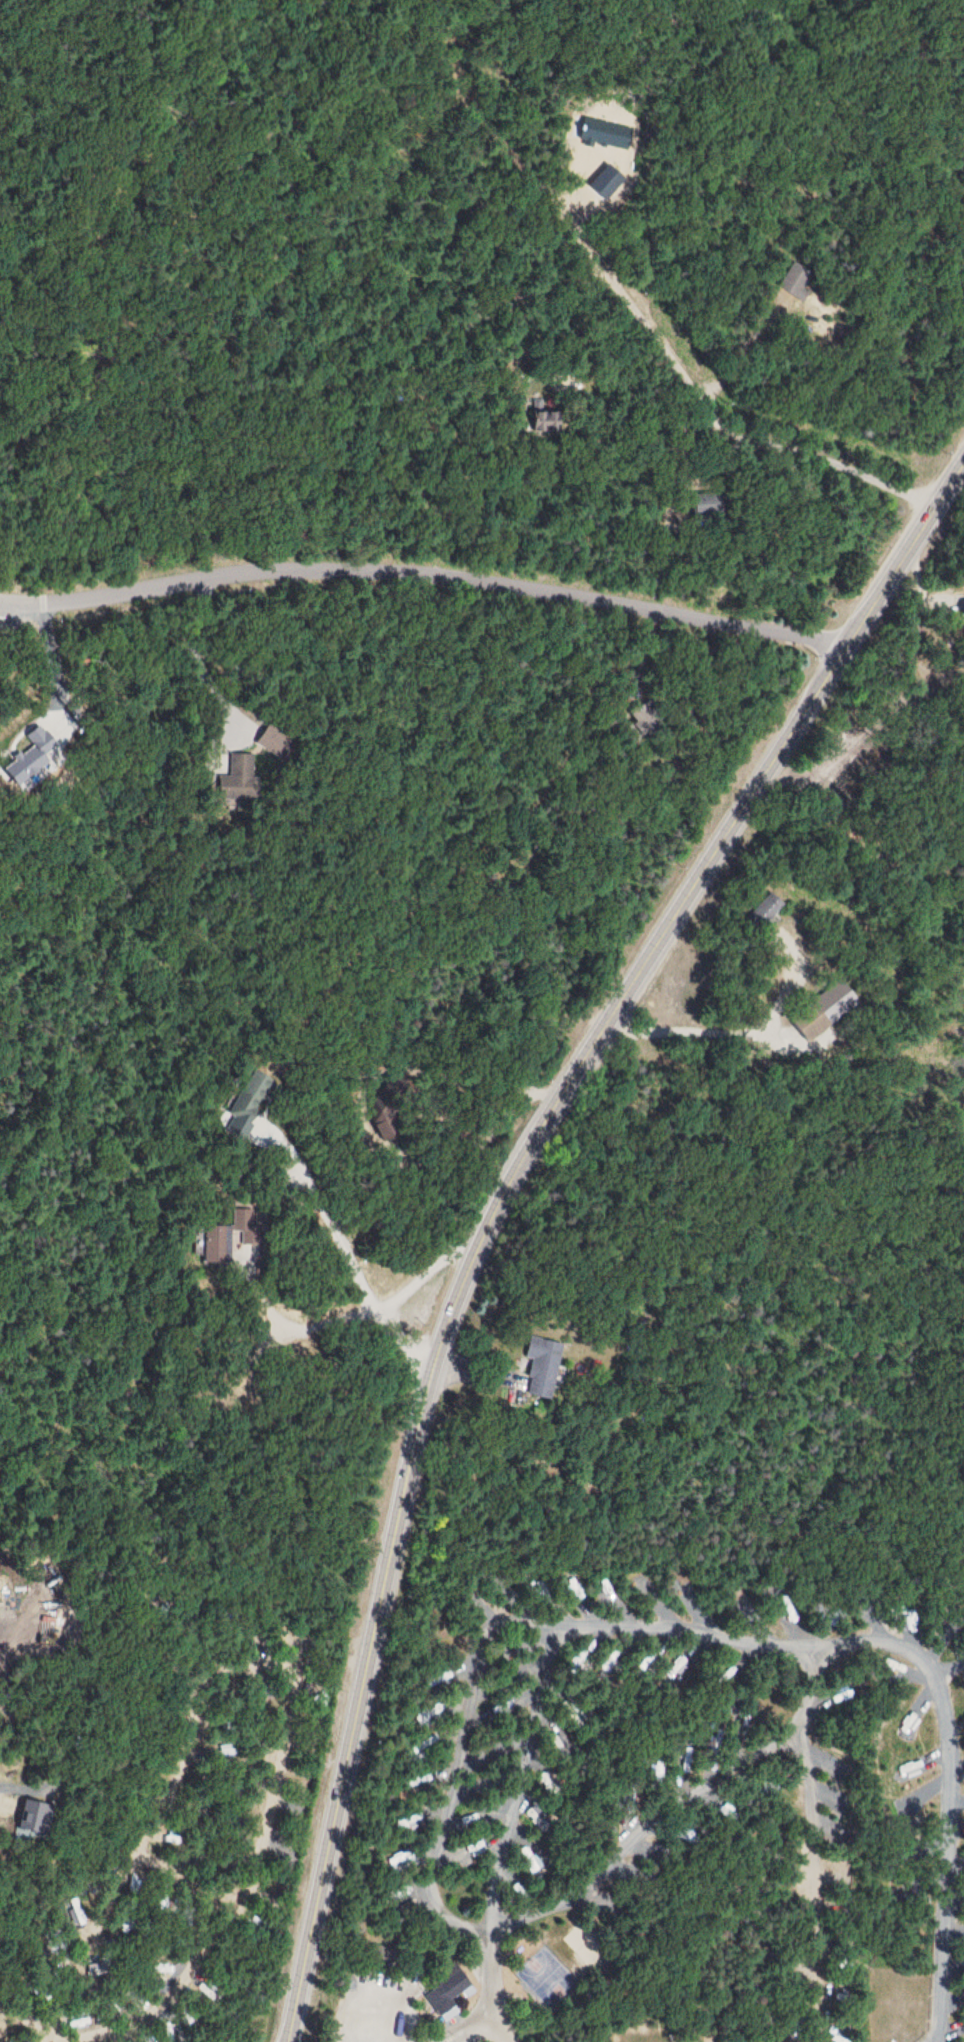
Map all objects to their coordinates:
road: (205, 37)
road: (913, 169)
road: (626, 329)
road: (423, 561)
road: (295, 599)
building: (962, 610)
building: (272, 739)
road: (466, 1114)
road: (451, 1133)
road: (487, 1133)
road: (501, 1143)
road: (487, 1191)
building: (223, 1236)
building: (537, 1366)
building: (642, 1585)
building: (572, 1587)
building: (606, 1591)
building: (687, 1592)
road: (868, 1637)
road: (277, 1639)
road: (485, 1639)
building: (439, 1679)
building: (498, 1710)
building: (425, 1715)
building: (424, 1741)
building: (494, 1751)
building: (829, 1771)
road: (522, 1774)
building: (414, 1783)
building: (477, 1787)
building: (30, 1813)
building: (473, 1819)
building: (535, 1819)
building: (406, 1820)
building: (467, 1853)
road: (608, 1856)
building: (397, 1857)
building: (531, 1861)
building: (164, 1968)
park: (550, 1980)
building: (444, 1994)
road: (481, 2033)

